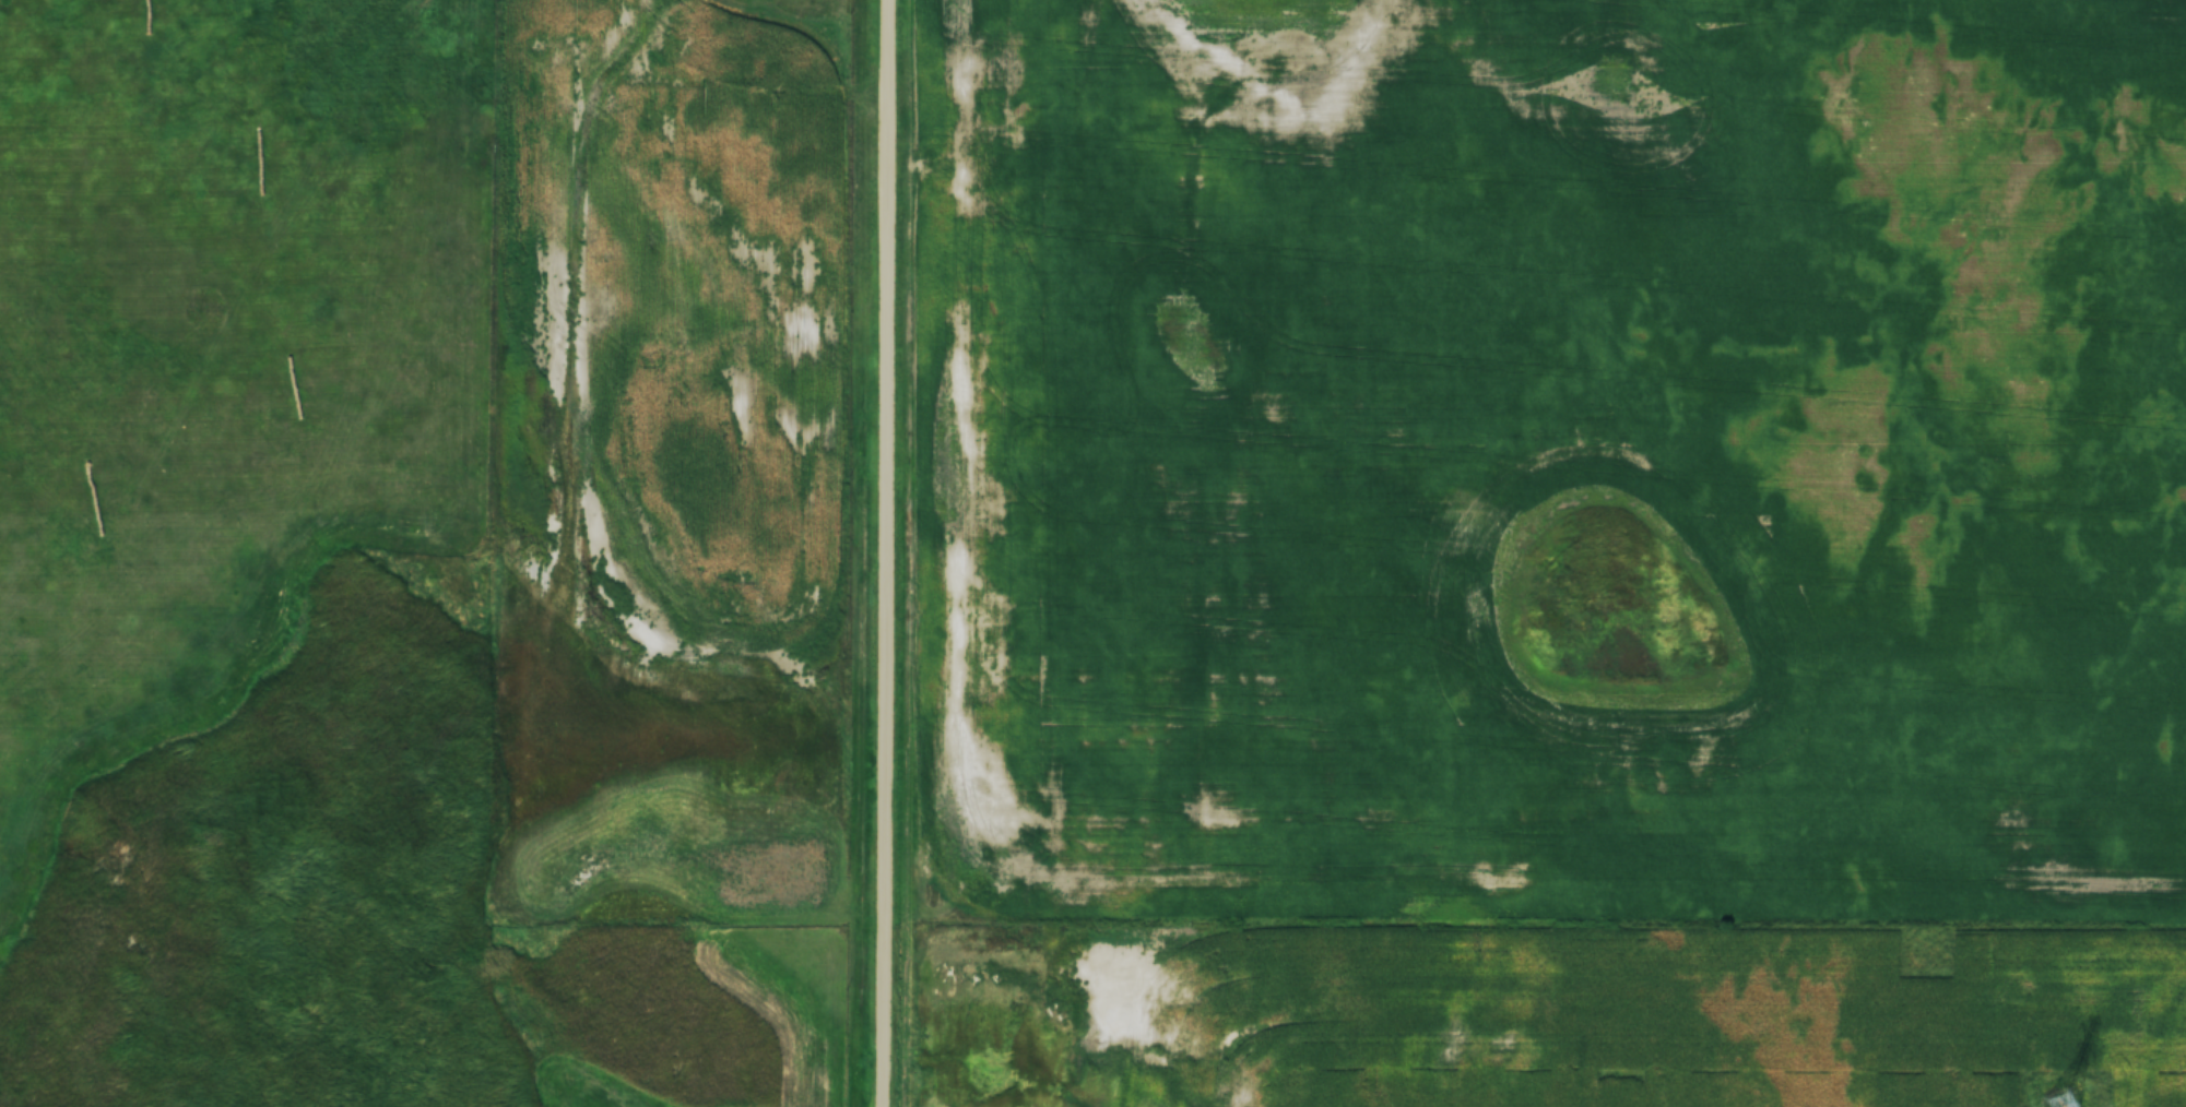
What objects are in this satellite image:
road: (812, 94)
road: (888, 553)
power tower: (2064, 1105)

